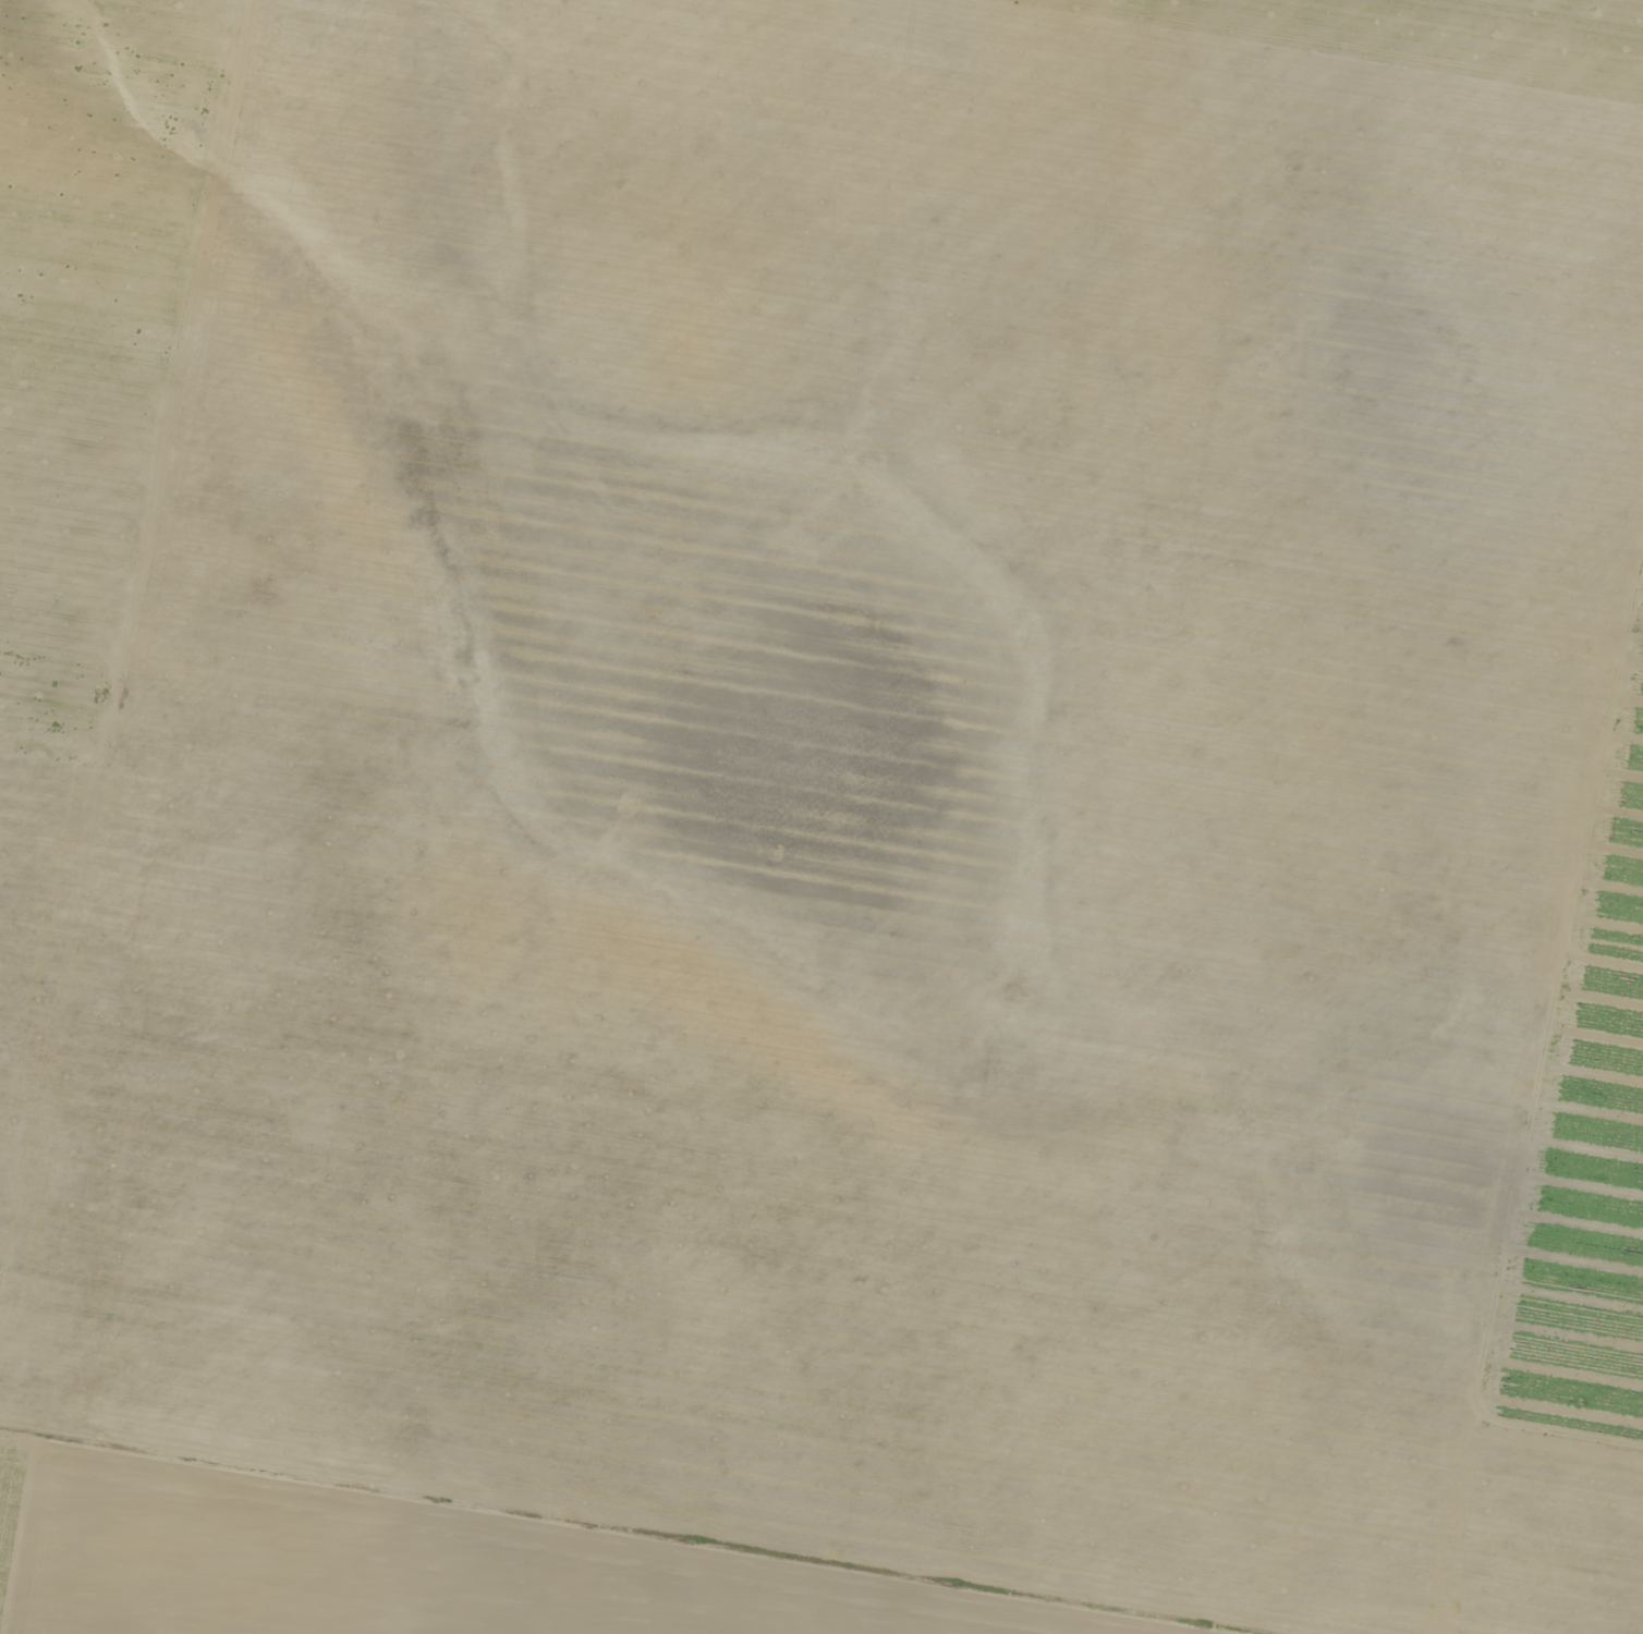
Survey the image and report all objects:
road: (667, 1522)

